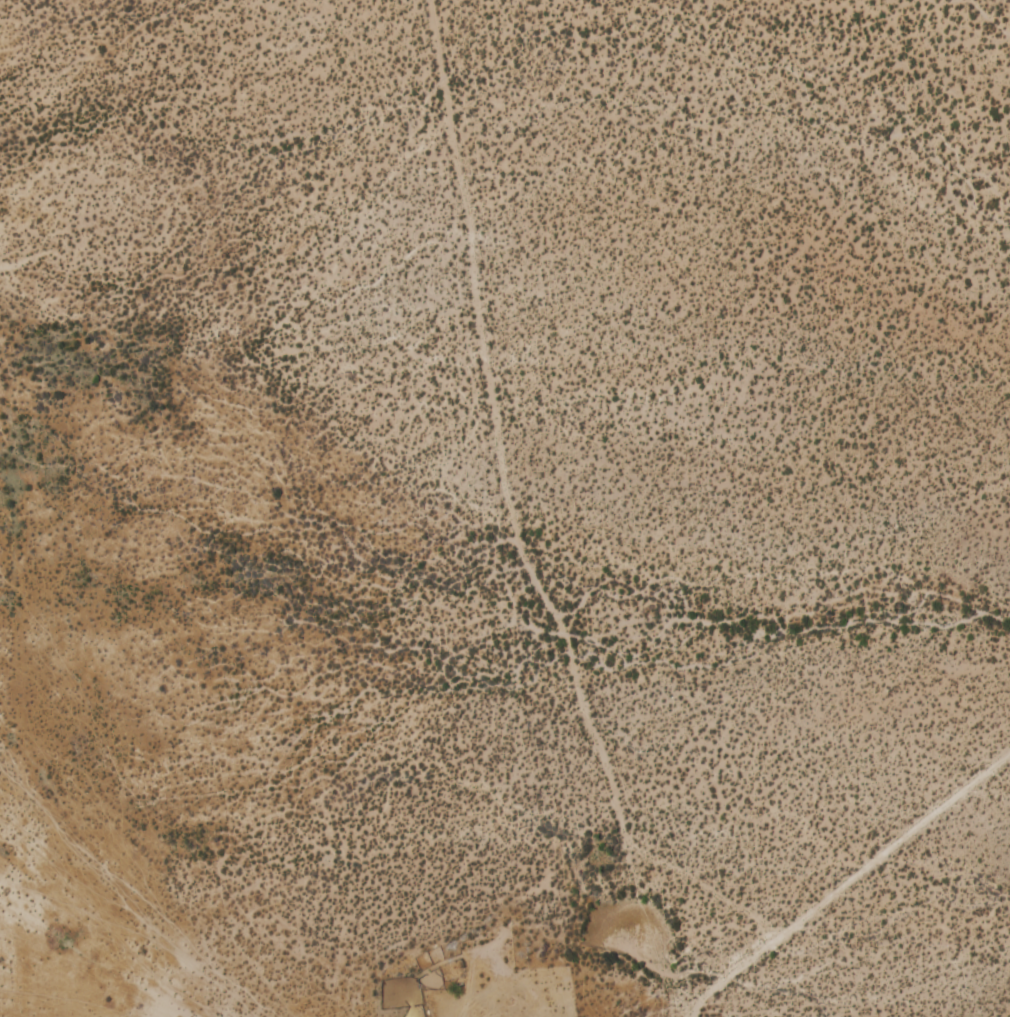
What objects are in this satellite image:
road: (768, 767)

